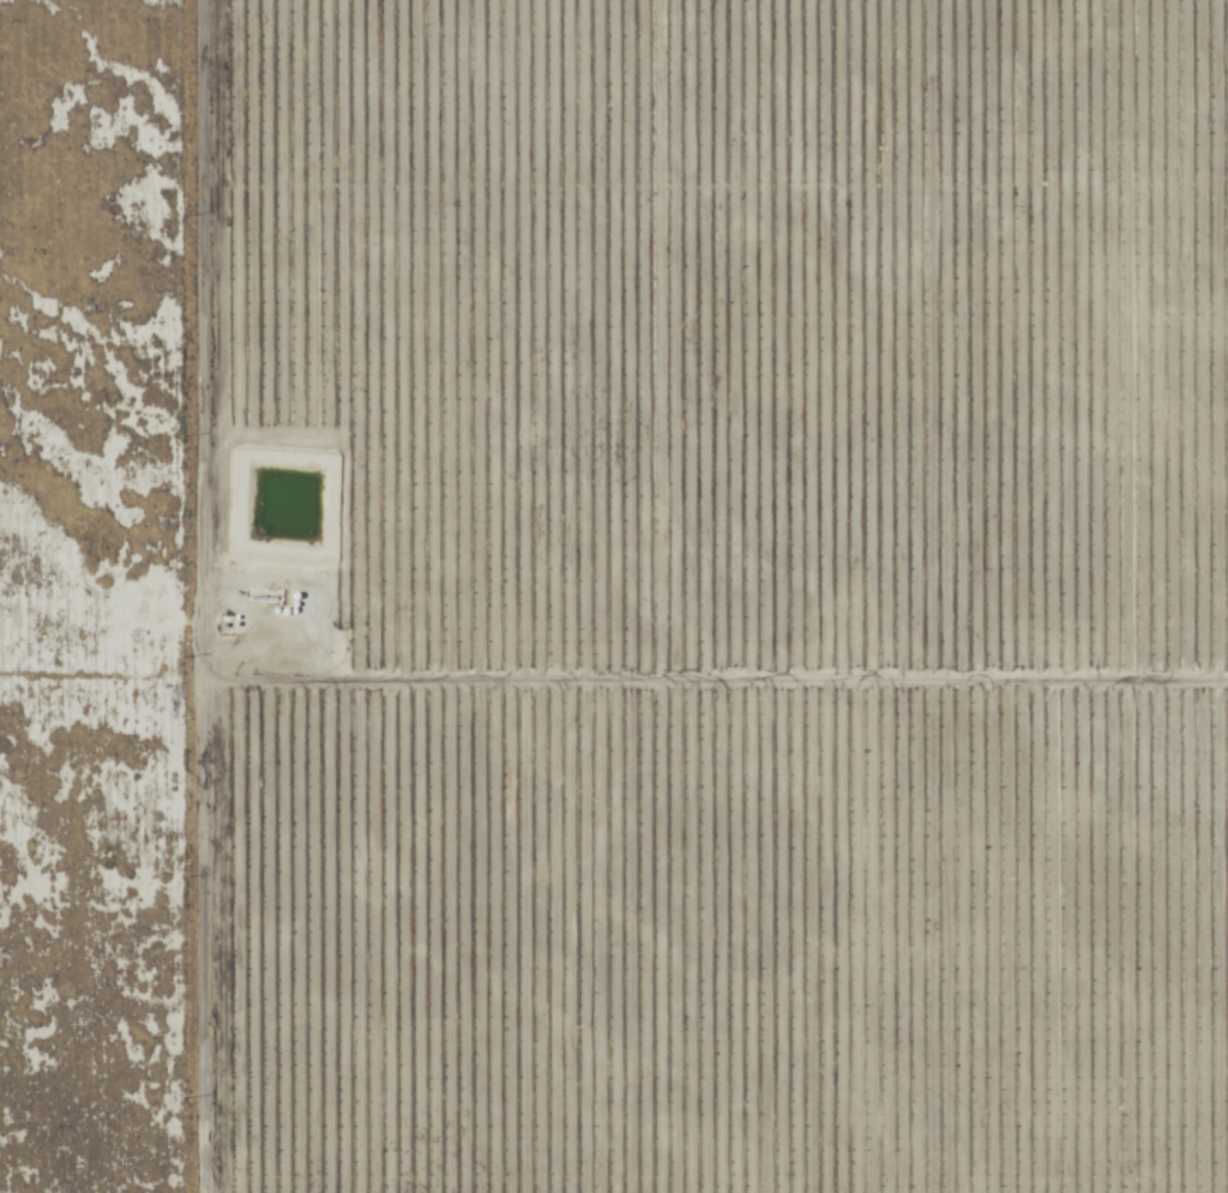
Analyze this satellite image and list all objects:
road: (189, 596)

